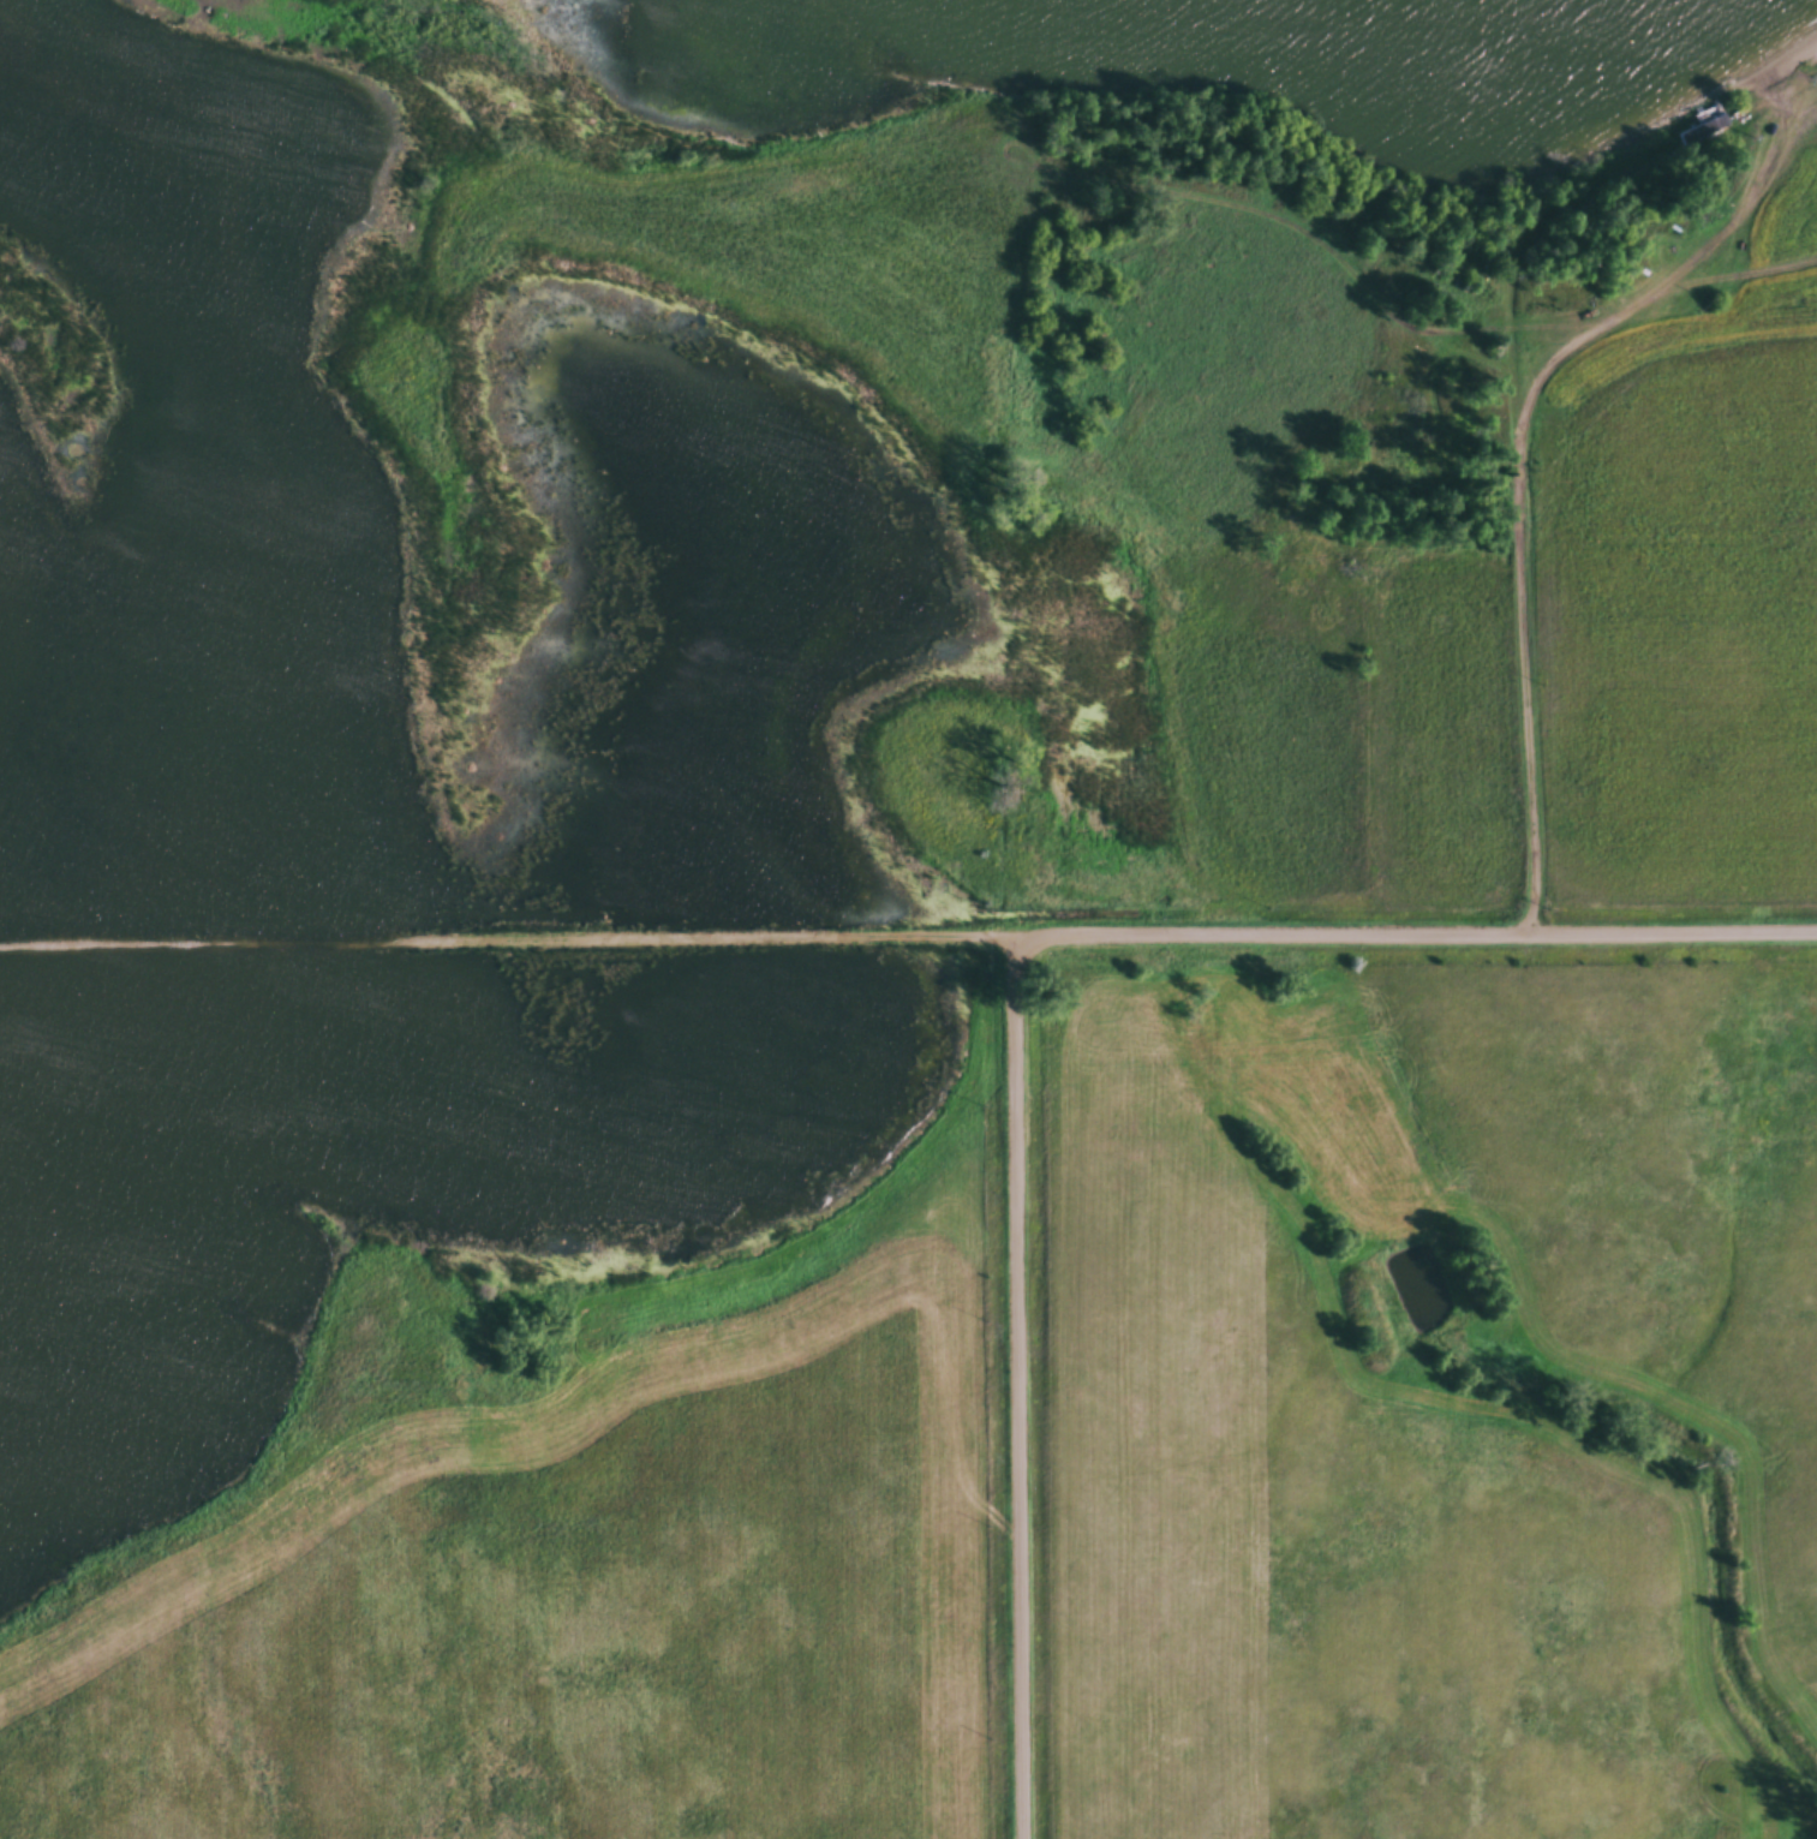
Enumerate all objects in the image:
building: (1704, 124)
road: (1517, 422)
road: (908, 936)
road: (1017, 1386)

